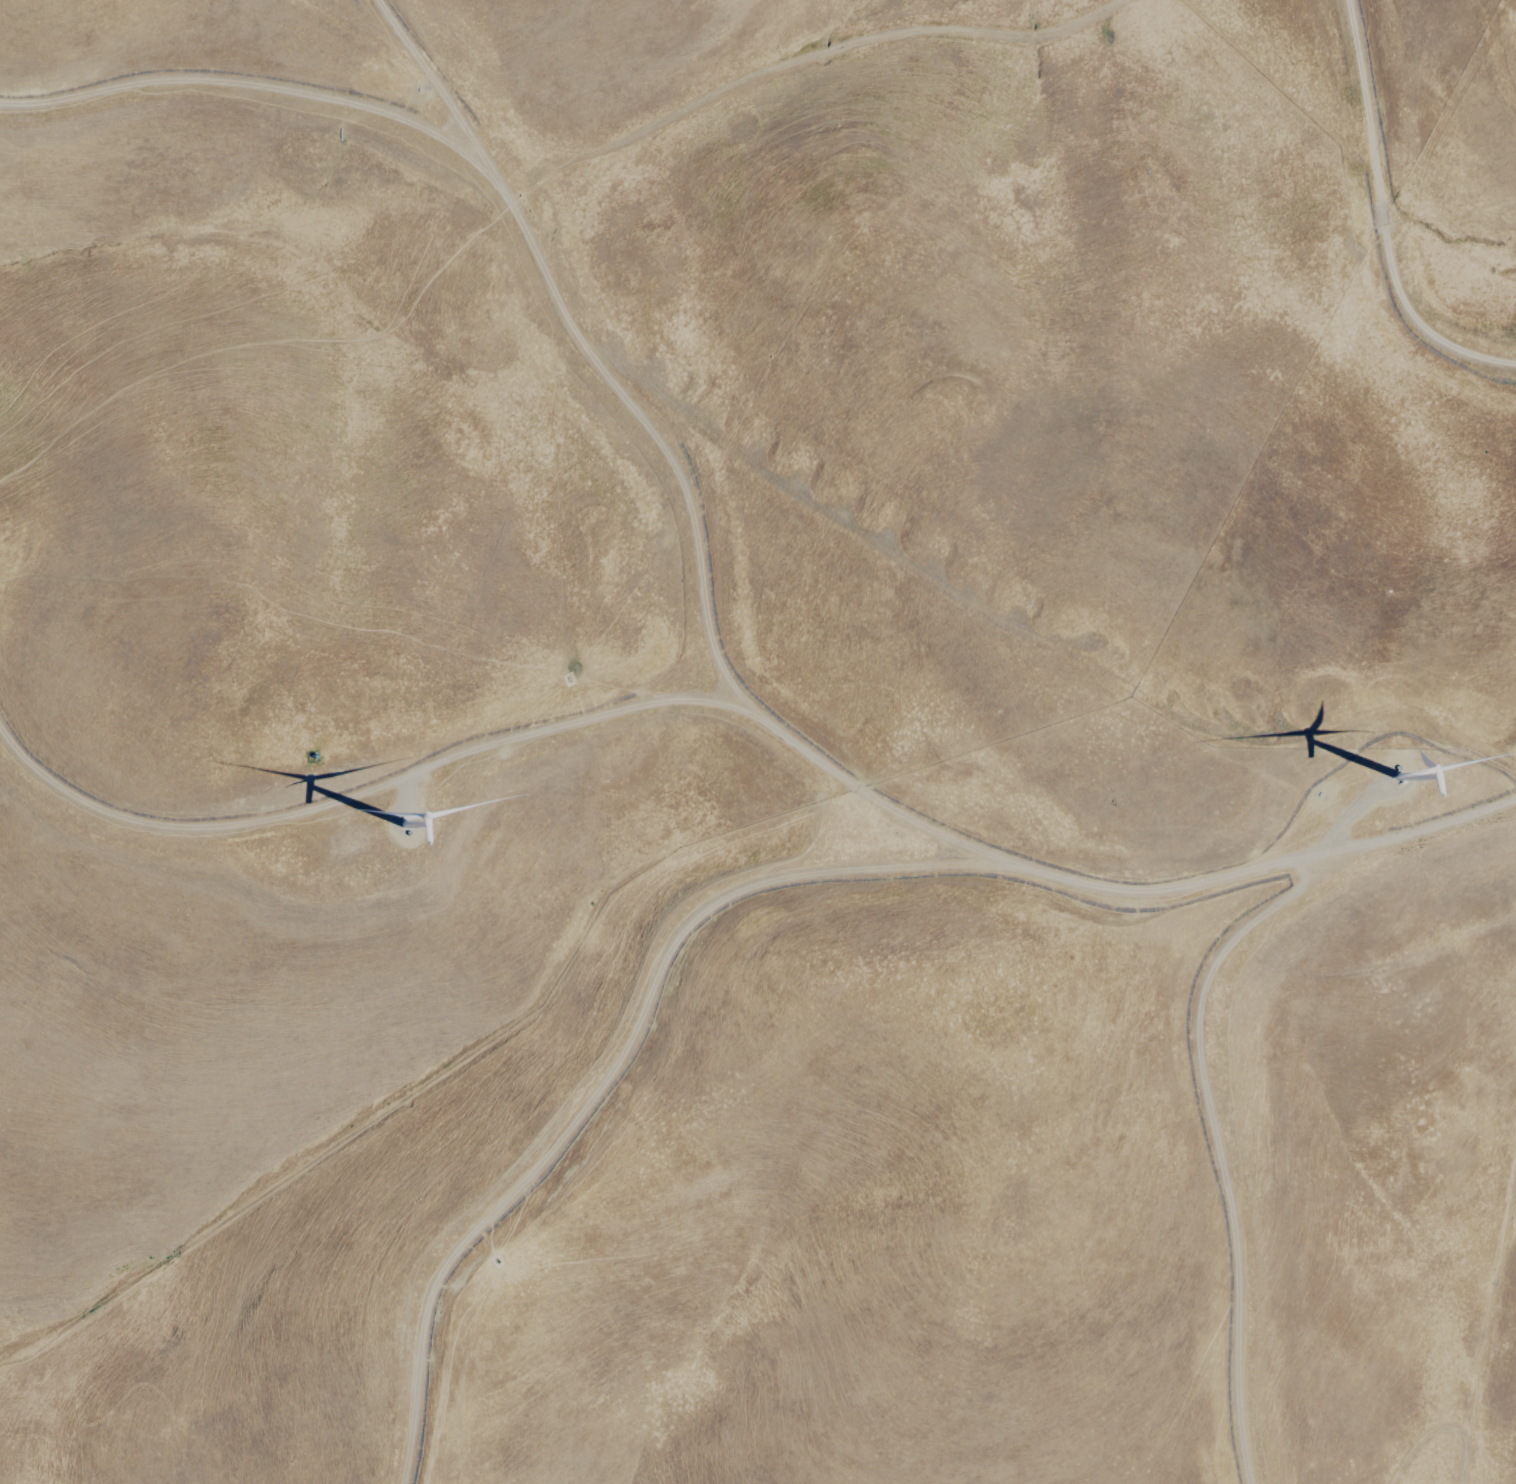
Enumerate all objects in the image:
road: (756, 78)
road: (246, 88)
road: (1368, 230)
road: (748, 721)
wind turbine: (1392, 770)
road: (372, 794)
wind turbine: (403, 816)
road: (599, 1079)
road: (1195, 1105)
road: (1472, 1404)

